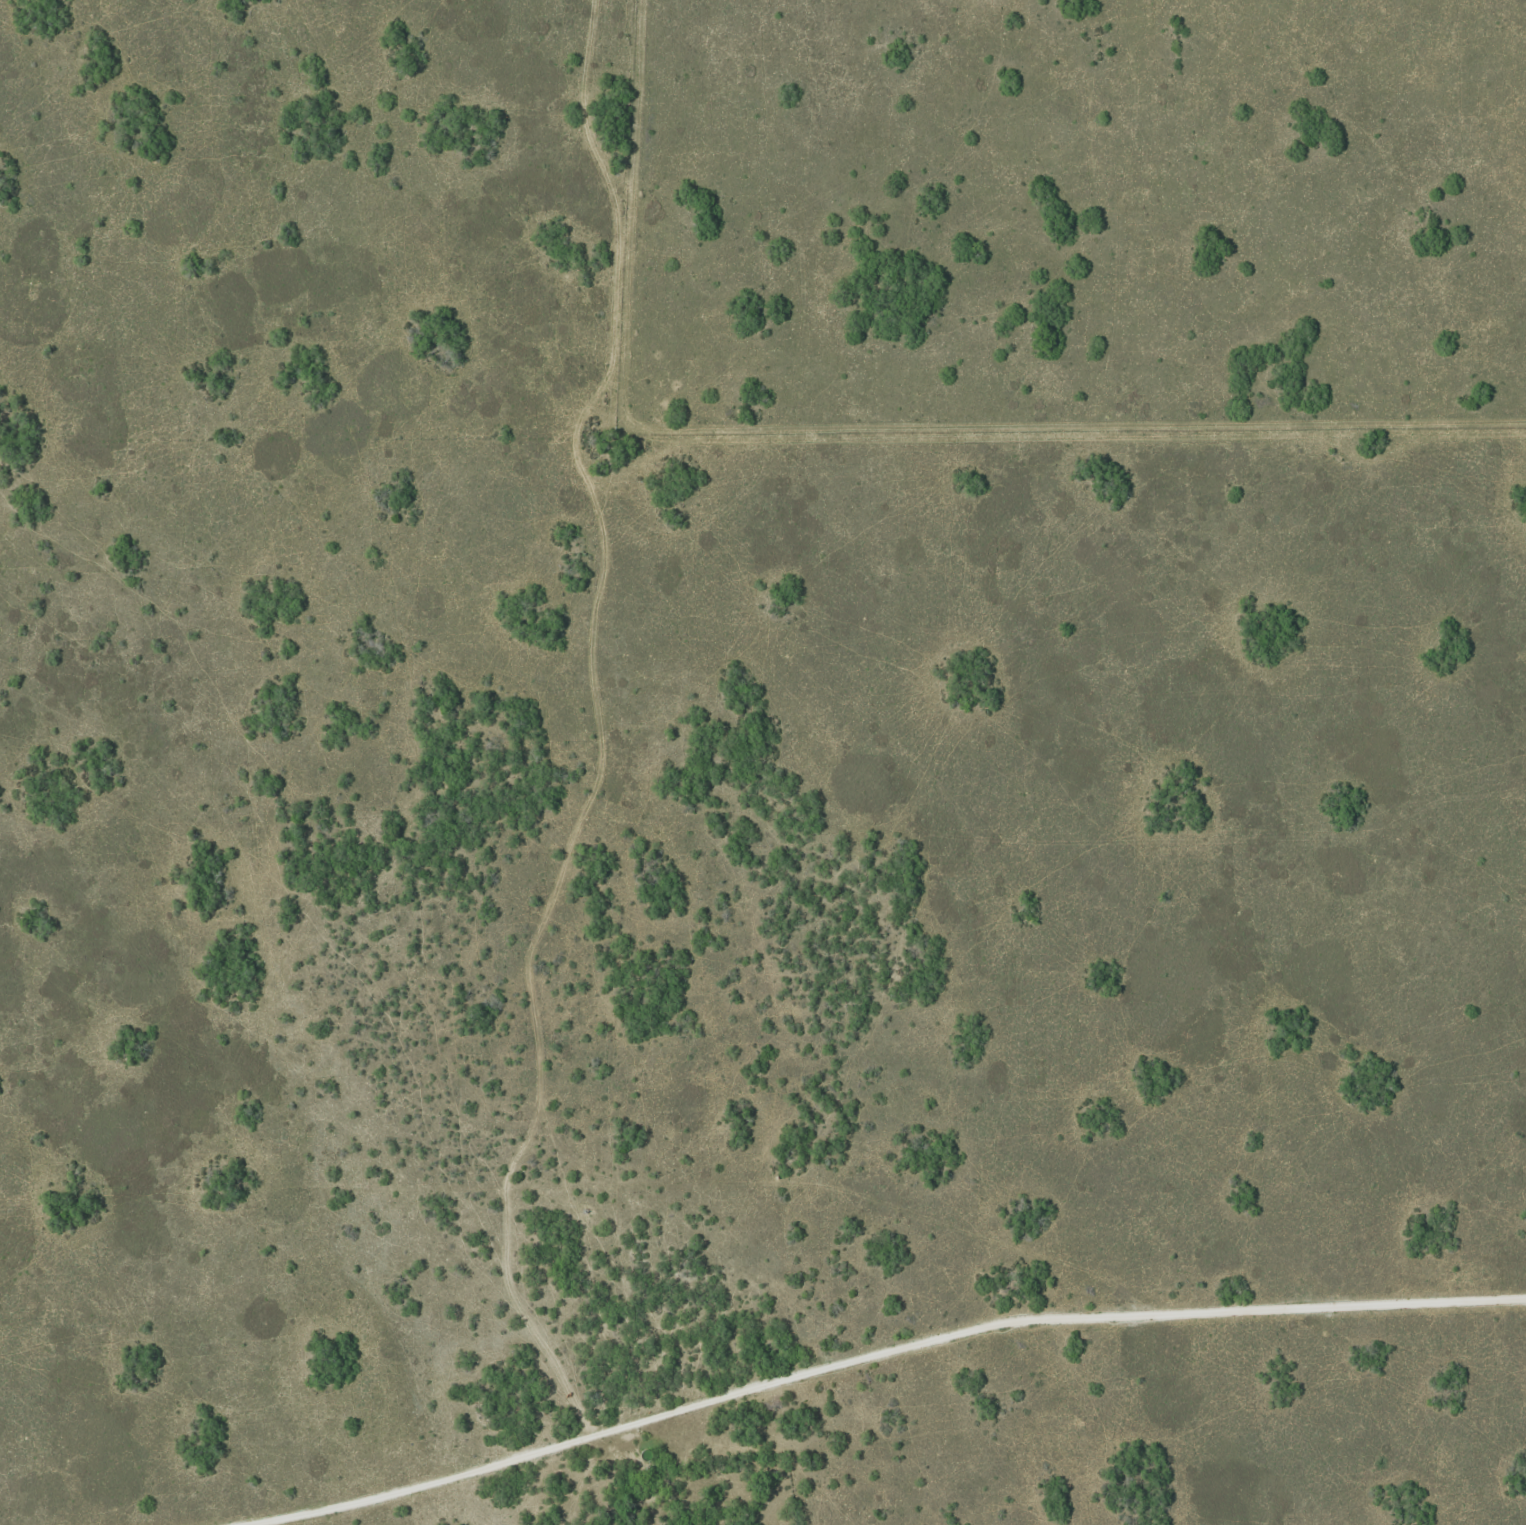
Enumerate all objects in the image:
road: (836, 1363)

